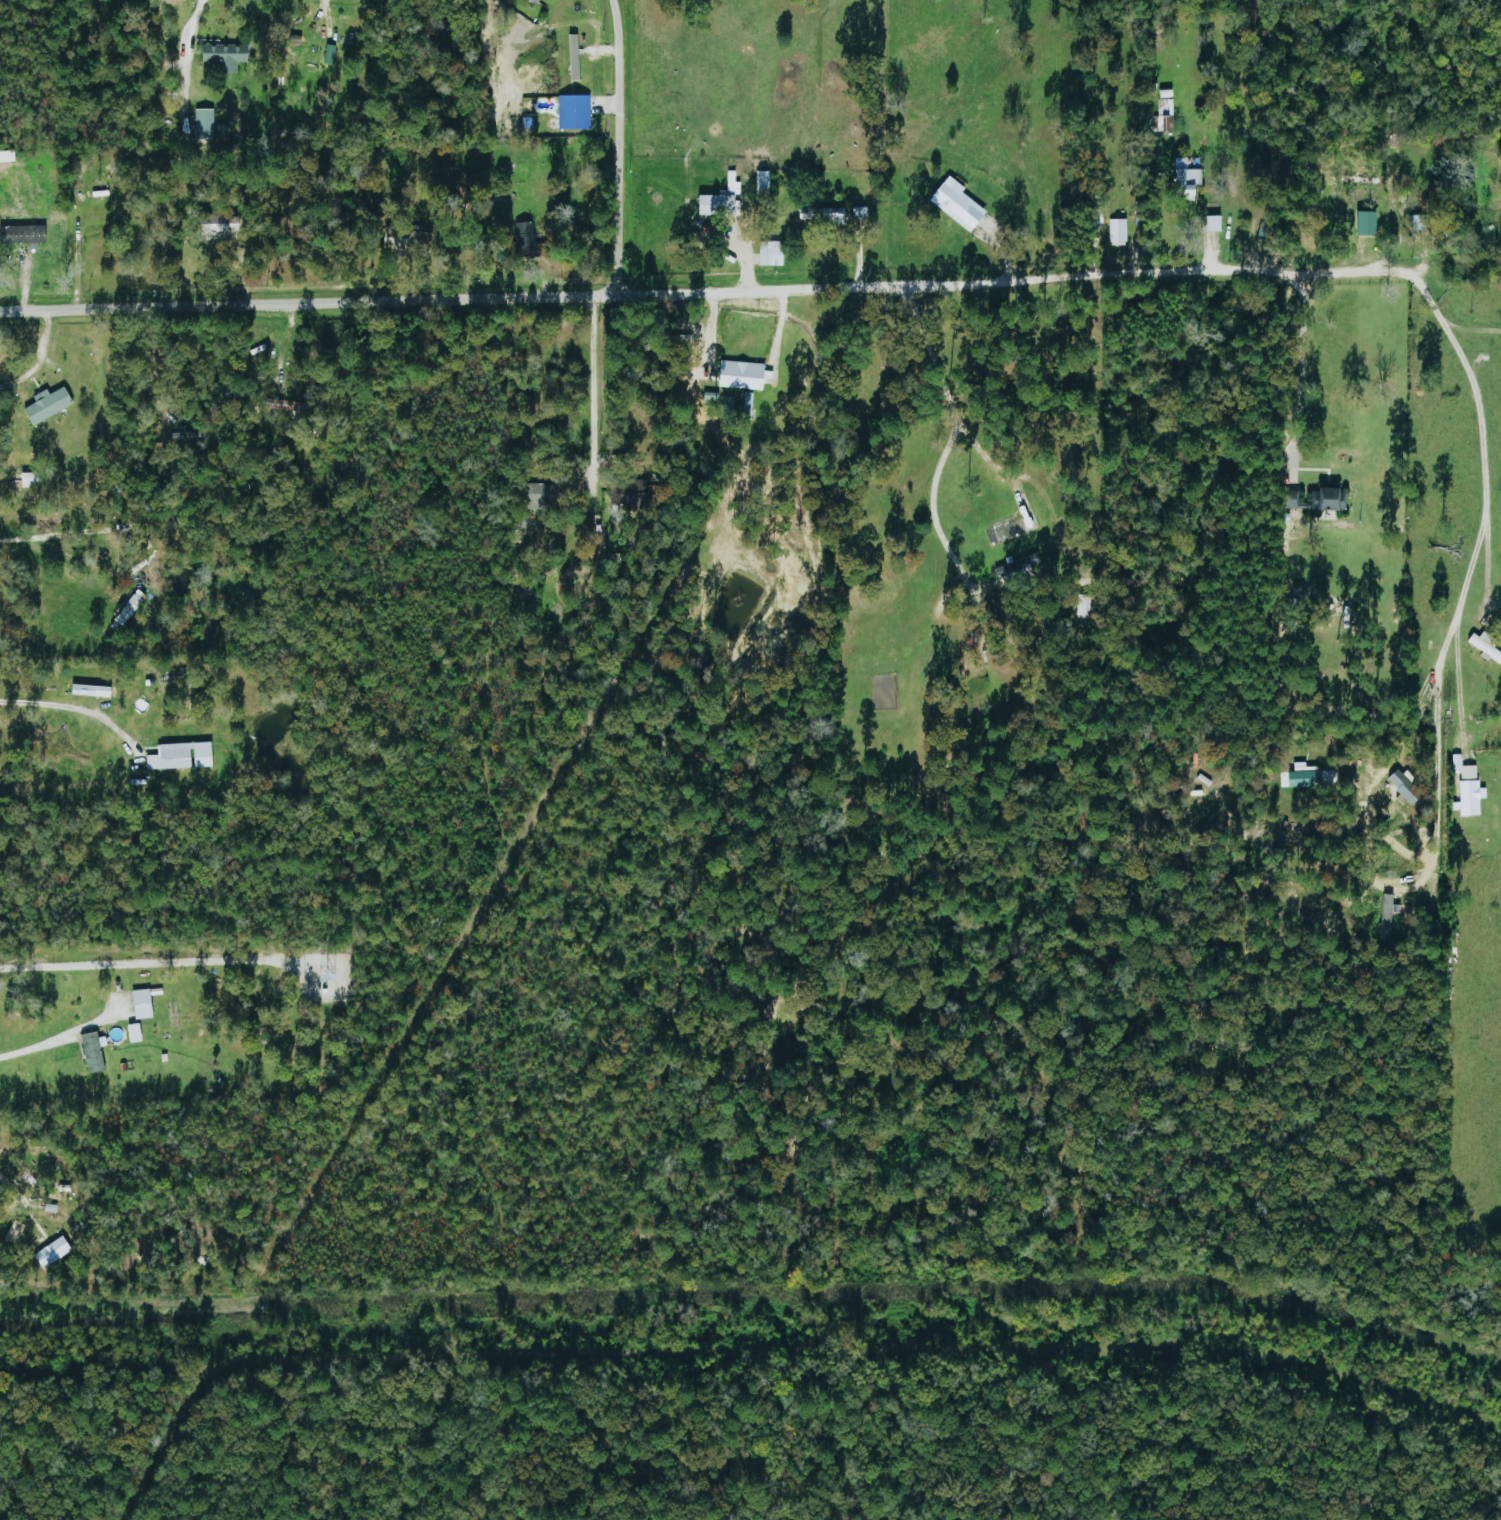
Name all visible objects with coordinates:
building: (535, 2)
building: (331, 54)
building: (575, 112)
building: (205, 124)
road: (620, 145)
building: (7, 156)
building: (1188, 176)
building: (764, 182)
building: (725, 199)
building: (959, 204)
building: (1213, 223)
building: (1119, 232)
building: (23, 235)
building: (524, 239)
building: (772, 253)
road: (753, 285)
road: (1299, 366)
building: (743, 375)
road: (592, 376)
building: (49, 405)
road: (952, 427)
building: (32, 480)
building: (538, 494)
building: (1329, 499)
road: (1484, 505)
road: (64, 555)
building: (126, 609)
building: (1486, 645)
building: (92, 691)
building: (183, 756)
building: (1305, 778)
building: (1407, 787)
building: (1469, 788)
road: (1436, 830)
building: (1389, 914)
building: (143, 1004)
building: (136, 1033)
road: (53, 1040)
building: (95, 1051)
road: (19, 1181)
building: (54, 1251)

